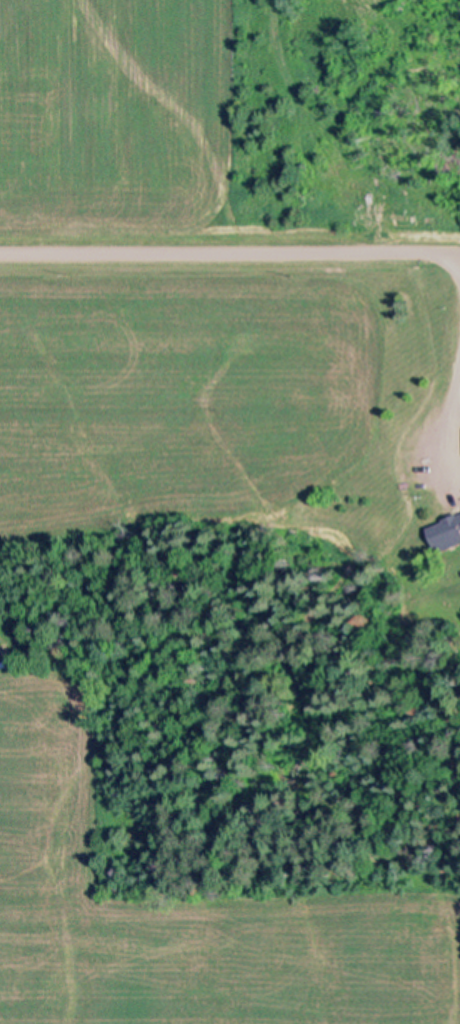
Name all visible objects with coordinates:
road: (230, 254)
building: (445, 532)

